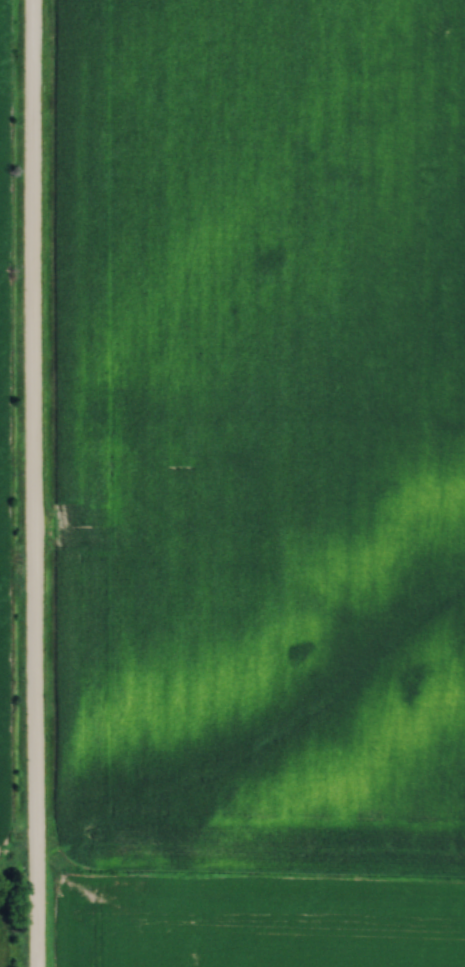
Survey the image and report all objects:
road: (31, 483)

